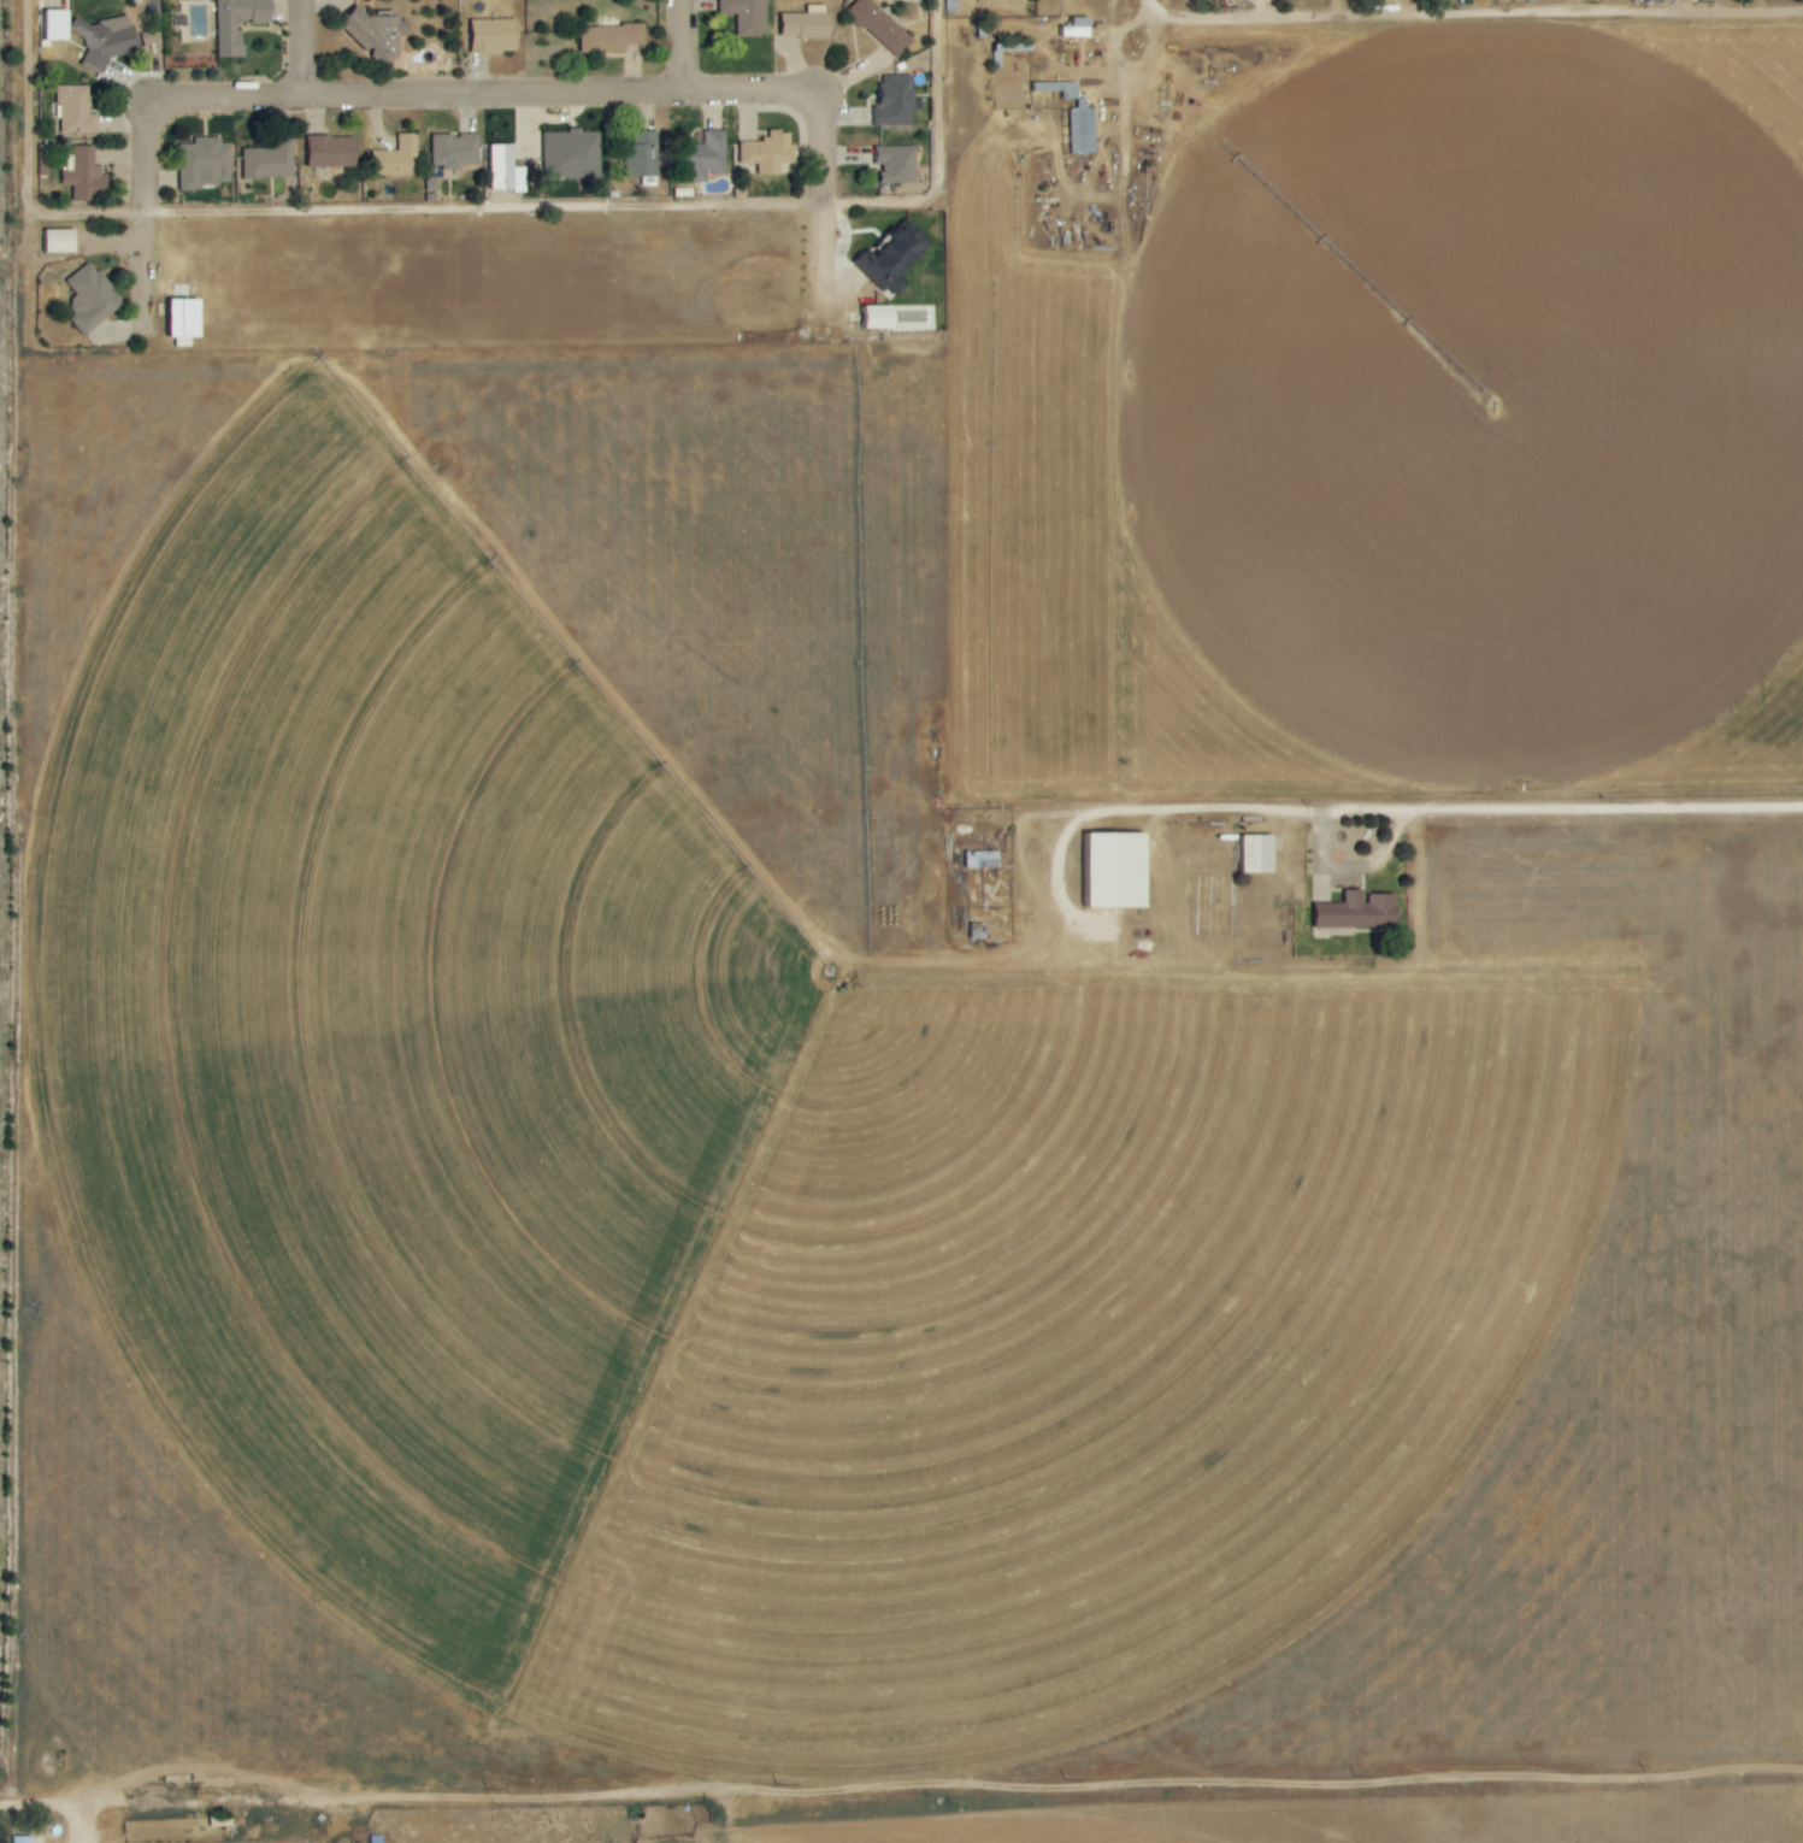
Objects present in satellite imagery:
building: (748, 16)
road: (1481, 17)
building: (240, 23)
building: (807, 23)
building: (57, 25)
building: (882, 27)
building: (1077, 29)
building: (381, 34)
building: (495, 36)
building: (611, 39)
building: (107, 40)
road: (693, 46)
road: (312, 51)
road: (1132, 60)
road: (938, 86)
building: (1060, 89)
road: (417, 98)
building: (897, 100)
building: (77, 111)
building: (1083, 128)
building: (334, 152)
building: (455, 152)
building: (768, 154)
building: (572, 155)
building: (643, 155)
building: (707, 158)
building: (397, 159)
building: (271, 161)
building: (206, 164)
building: (898, 164)
building: (86, 175)
road: (390, 212)
building: (61, 241)
building: (890, 263)
building: (93, 300)
building: (878, 318)
building: (184, 319)
road: (1424, 813)
building: (1248, 853)
building: (977, 859)
building: (1106, 868)
building: (1351, 911)
power tower: (1644, 1770)
power tower: (1349, 1774)
power tower: (1061, 1779)
power tower: (773, 1784)
road: (901, 1786)
power tower: (484, 1788)
power tower: (195, 1792)
road: (86, 1823)
building: (18, 1839)

